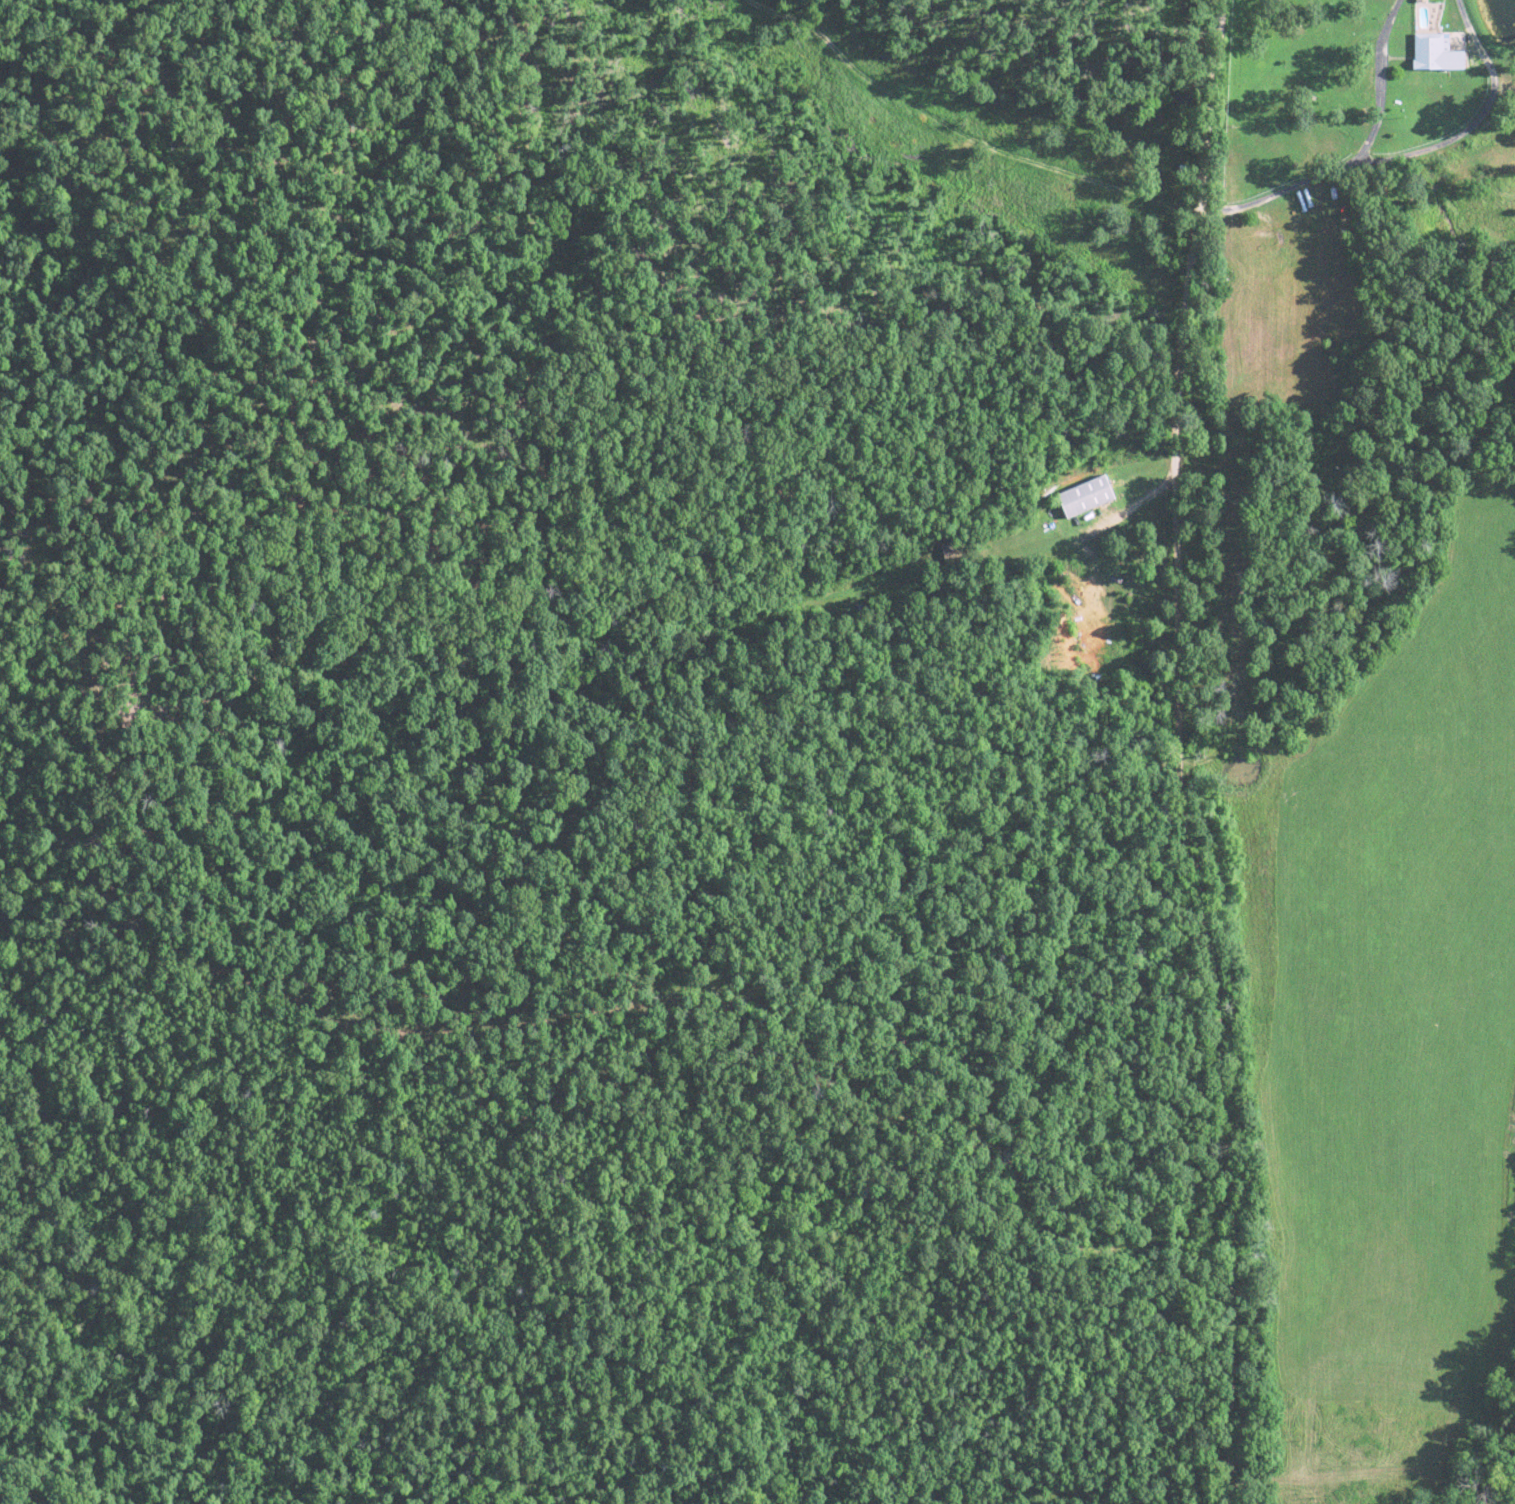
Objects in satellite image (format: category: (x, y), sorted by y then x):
building: (1441, 53)
road: (1187, 274)
building: (1091, 495)
road: (1176, 628)

